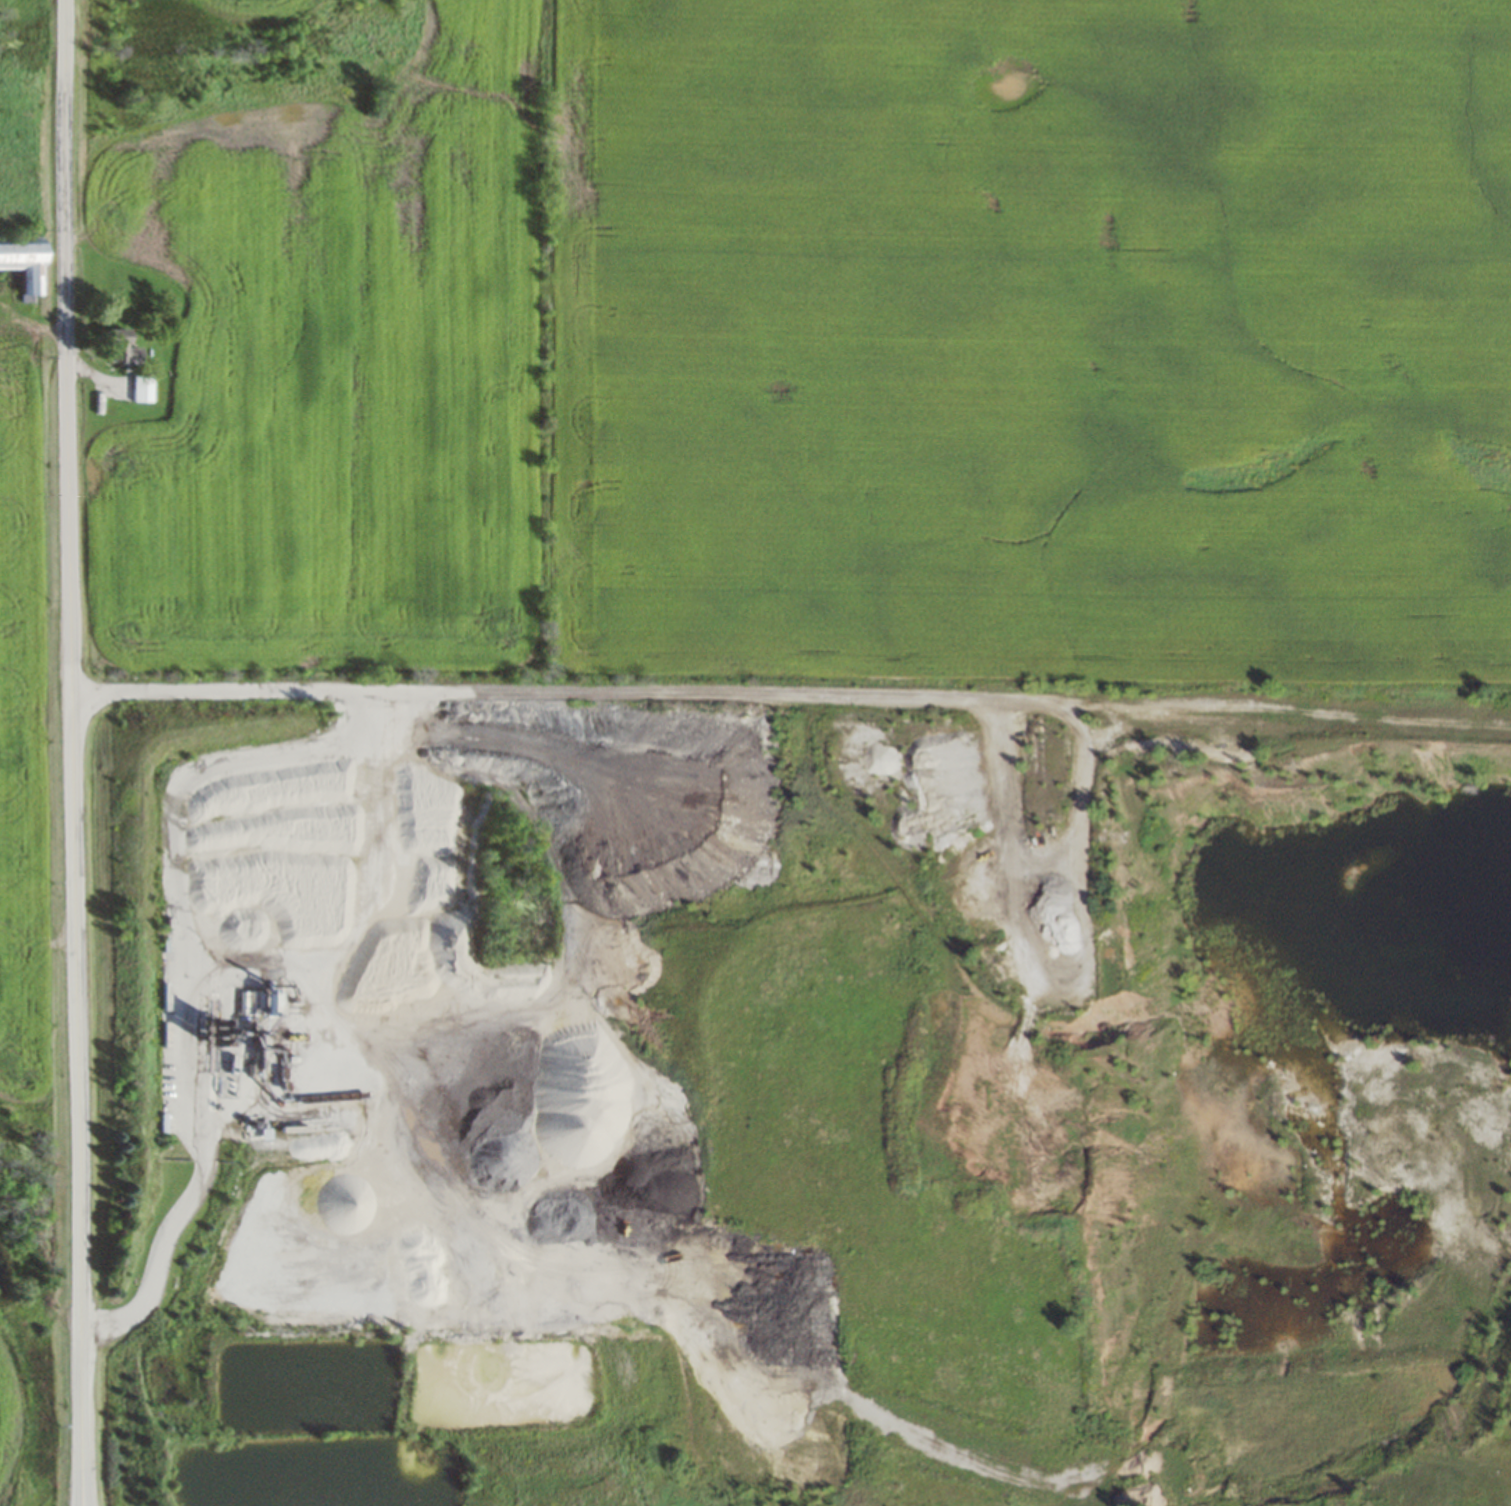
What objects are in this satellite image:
building: (26, 260)
building: (122, 347)
building: (1, 348)
building: (143, 388)
road: (75, 752)
quarry: (796, 1091)

